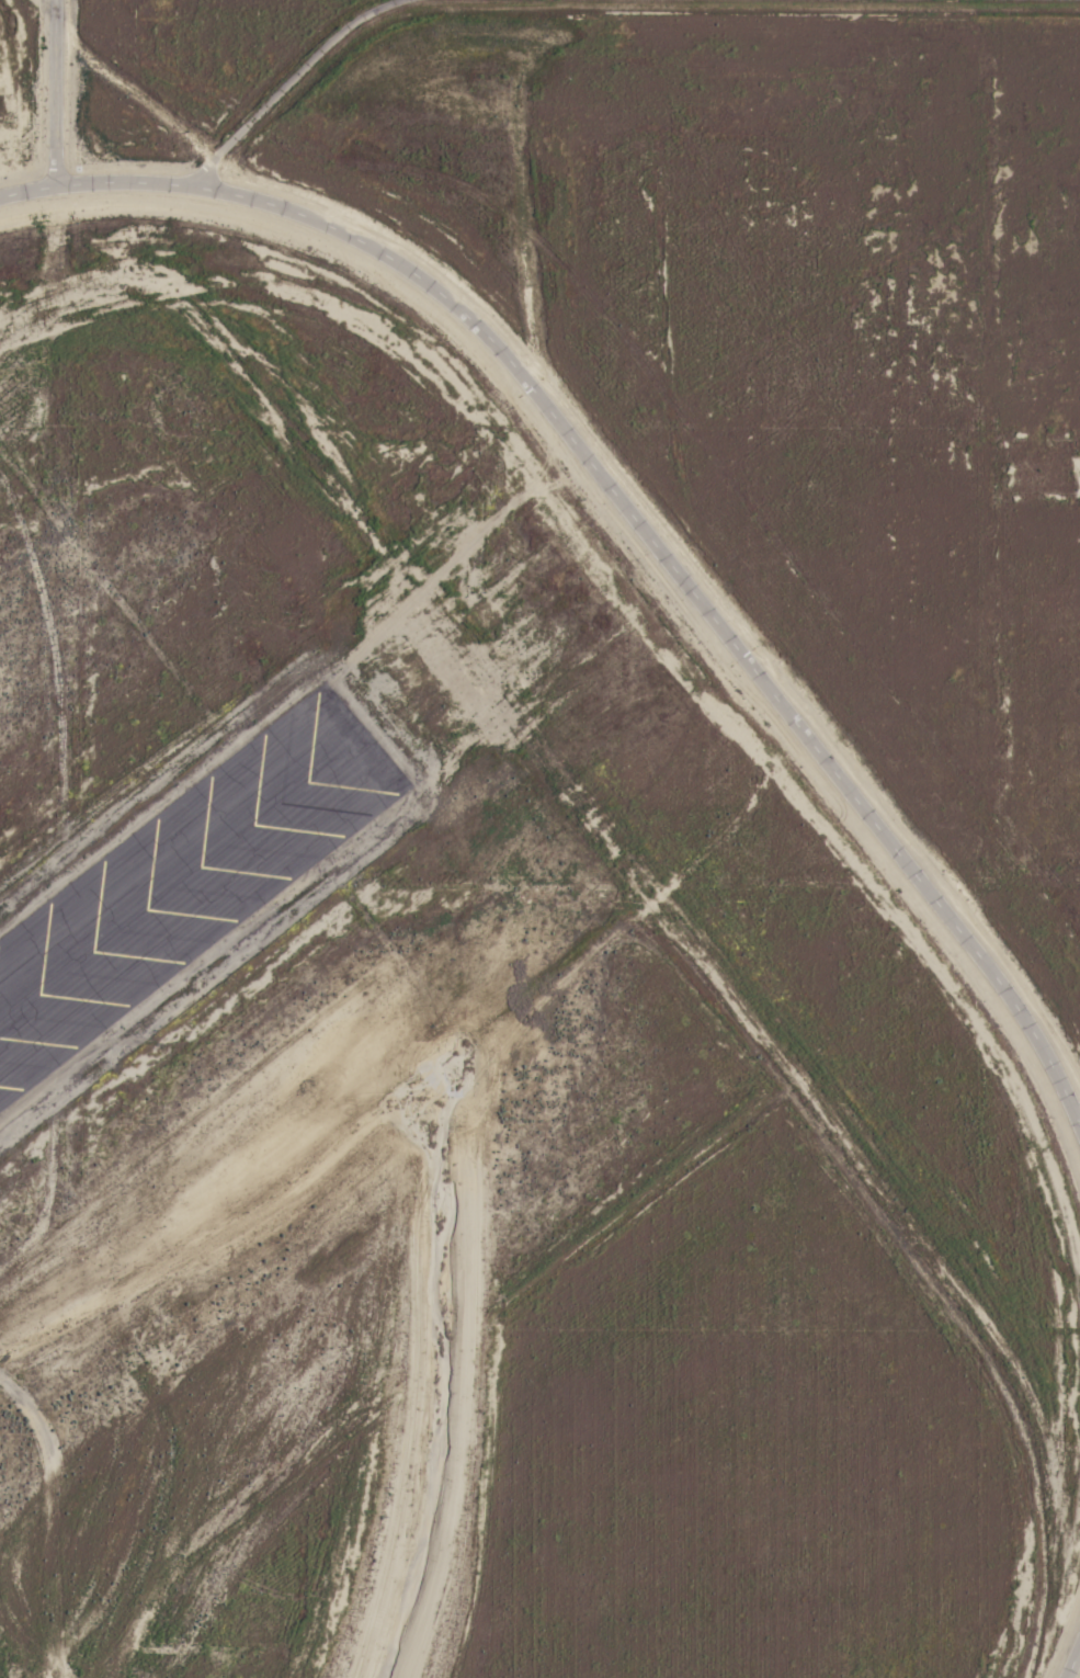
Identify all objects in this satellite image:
road: (630, 513)
road: (1073, 1664)

